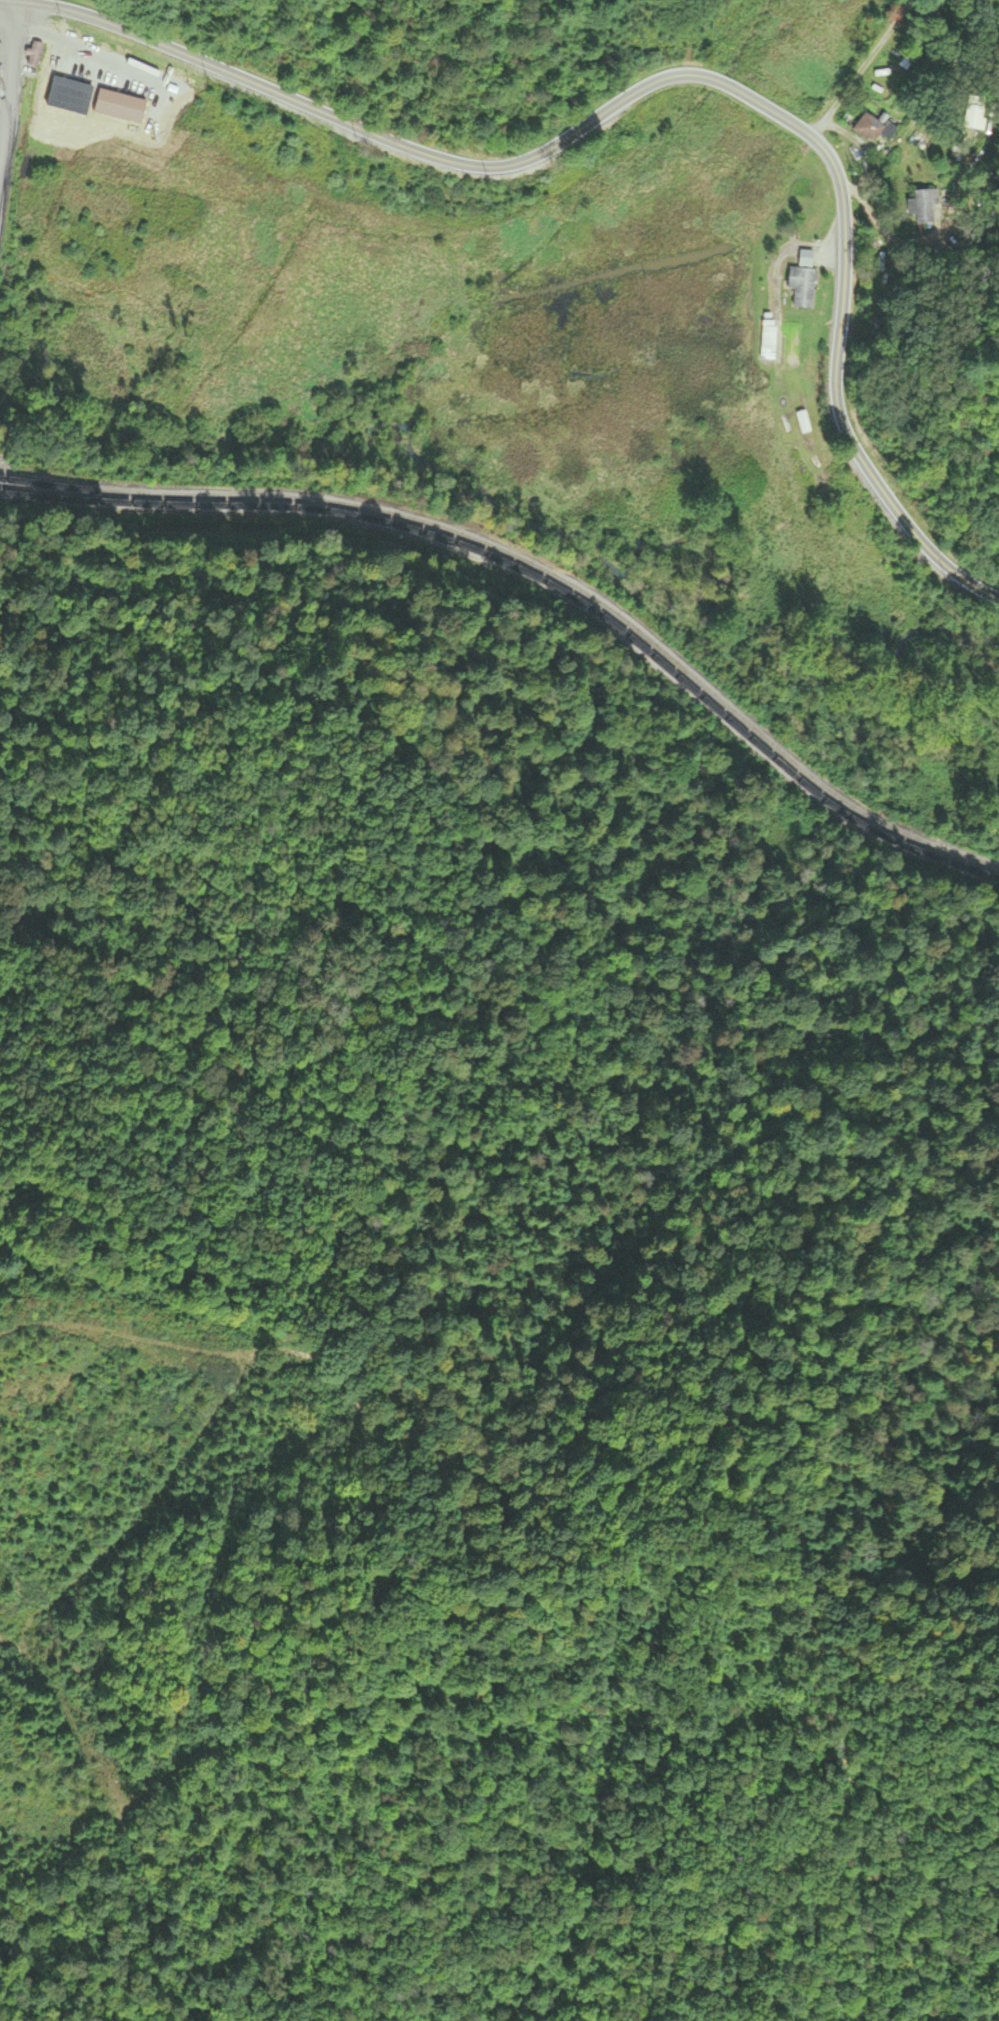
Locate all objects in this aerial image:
building: (33, 54)
road: (859, 68)
building: (874, 129)
road: (417, 149)
building: (923, 207)
building: (805, 260)
building: (802, 287)
building: (768, 340)
road: (838, 394)
building: (803, 422)
railway: (539, 570)
railway: (540, 580)

